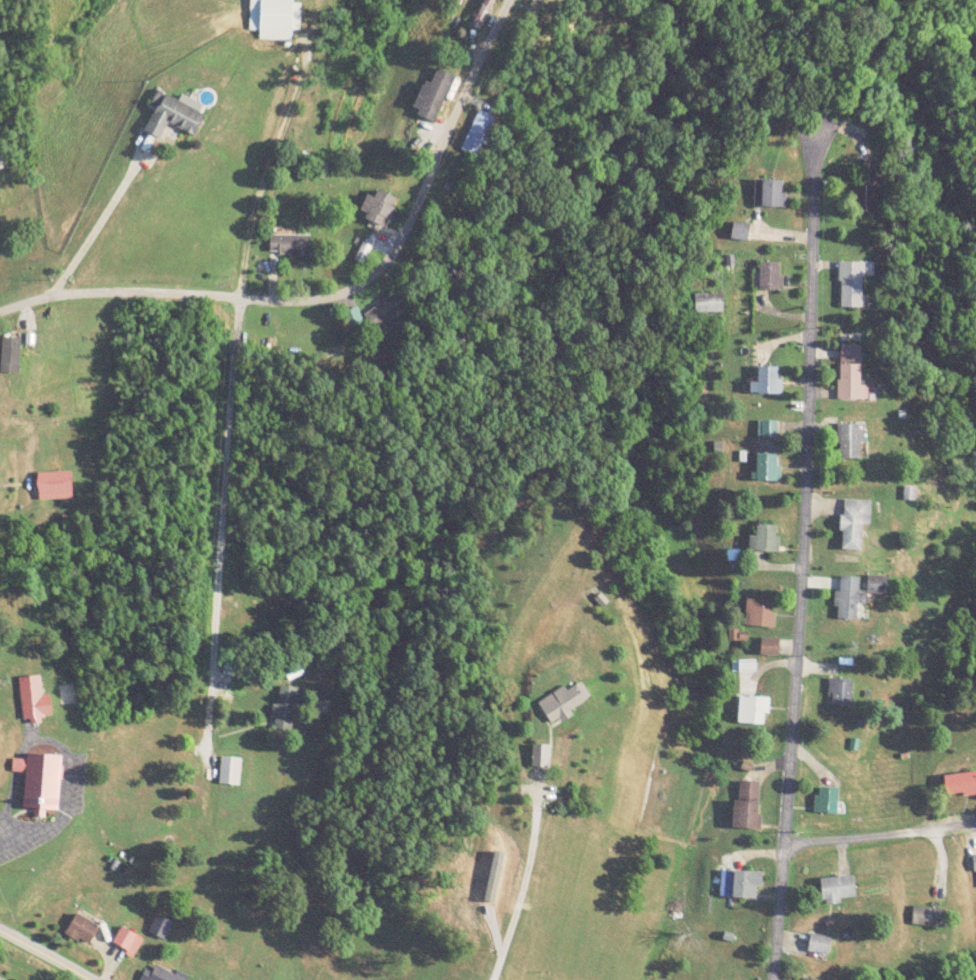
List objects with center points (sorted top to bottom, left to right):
building: (456, 6)
building: (276, 20)
building: (436, 95)
building: (175, 117)
building: (769, 193)
building: (865, 195)
building: (381, 207)
road: (93, 224)
building: (740, 230)
building: (289, 244)
building: (362, 253)
building: (770, 275)
building: (852, 284)
road: (337, 286)
building: (708, 302)
building: (386, 311)
building: (10, 353)
building: (850, 372)
building: (766, 382)
building: (767, 429)
building: (851, 440)
building: (768, 467)
building: (55, 485)
building: (910, 490)
building: (854, 522)
building: (765, 539)
building: (877, 585)
building: (850, 597)
building: (760, 613)
building: (769, 646)
building: (840, 693)
building: (34, 700)
building: (561, 704)
building: (285, 708)
building: (752, 710)
building: (540, 756)
building: (230, 771)
building: (40, 783)
building: (960, 785)
building: (827, 801)
building: (747, 805)
building: (974, 863)
road: (523, 884)
building: (739, 885)
building: (837, 889)
building: (929, 917)
building: (82, 931)
building: (127, 941)
building: (819, 944)
road: (31, 962)
building: (159, 974)
building: (1, 979)
building: (803, 979)

